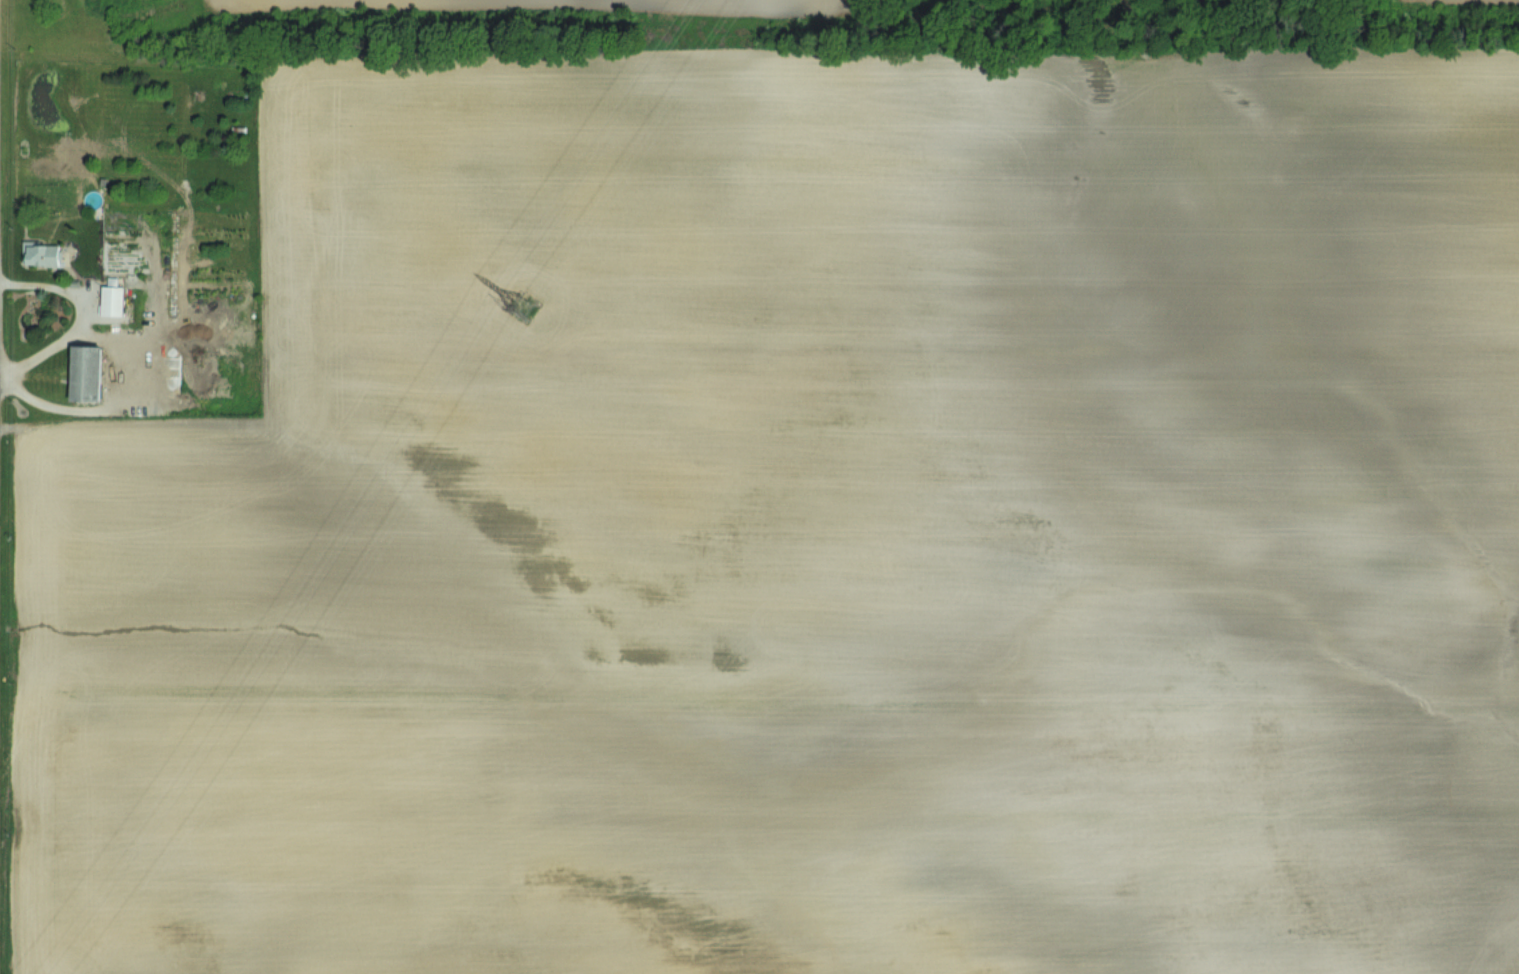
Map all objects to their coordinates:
building: (40, 253)
building: (112, 300)
road: (85, 313)
power tower: (513, 319)
building: (86, 372)
road: (114, 402)

